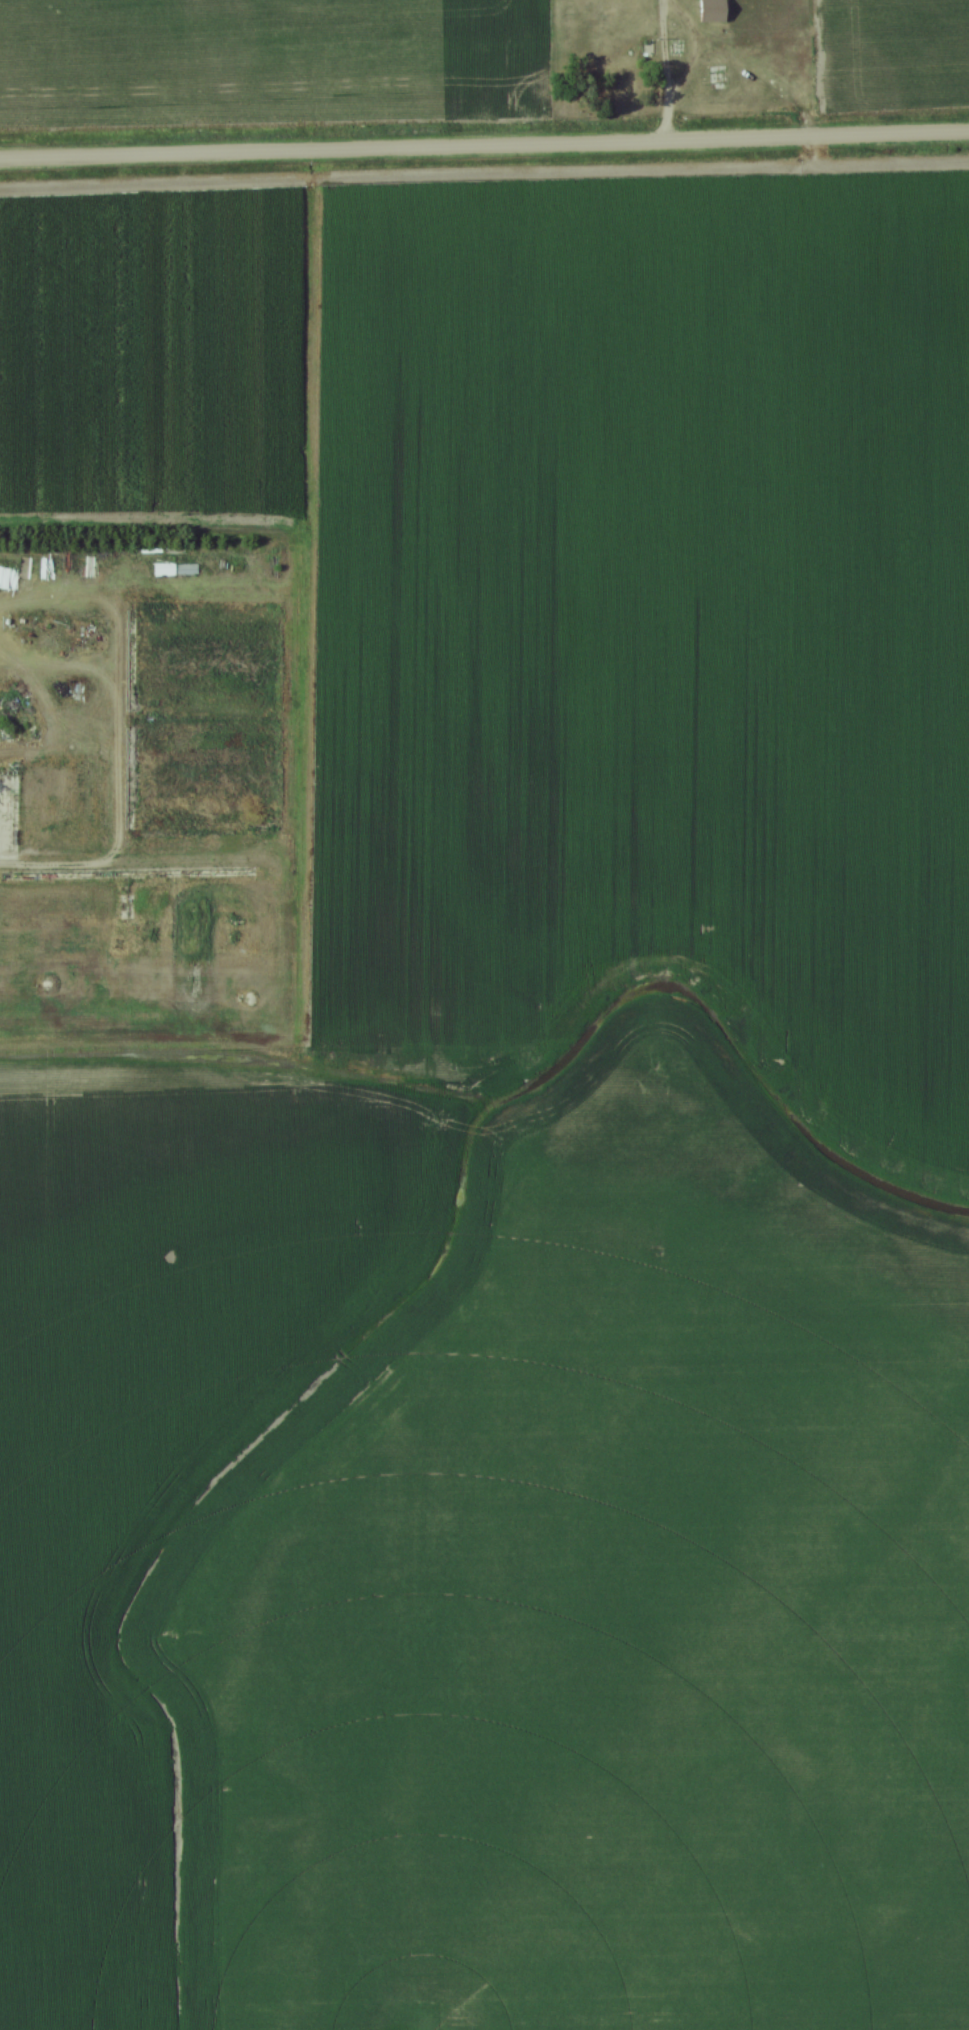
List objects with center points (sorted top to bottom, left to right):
road: (654, 5)
building: (713, 11)
building: (675, 47)
building: (718, 77)
road: (661, 125)
road: (484, 149)
building: (9, 973)
crop: (151, 1436)
crop: (604, 1607)

